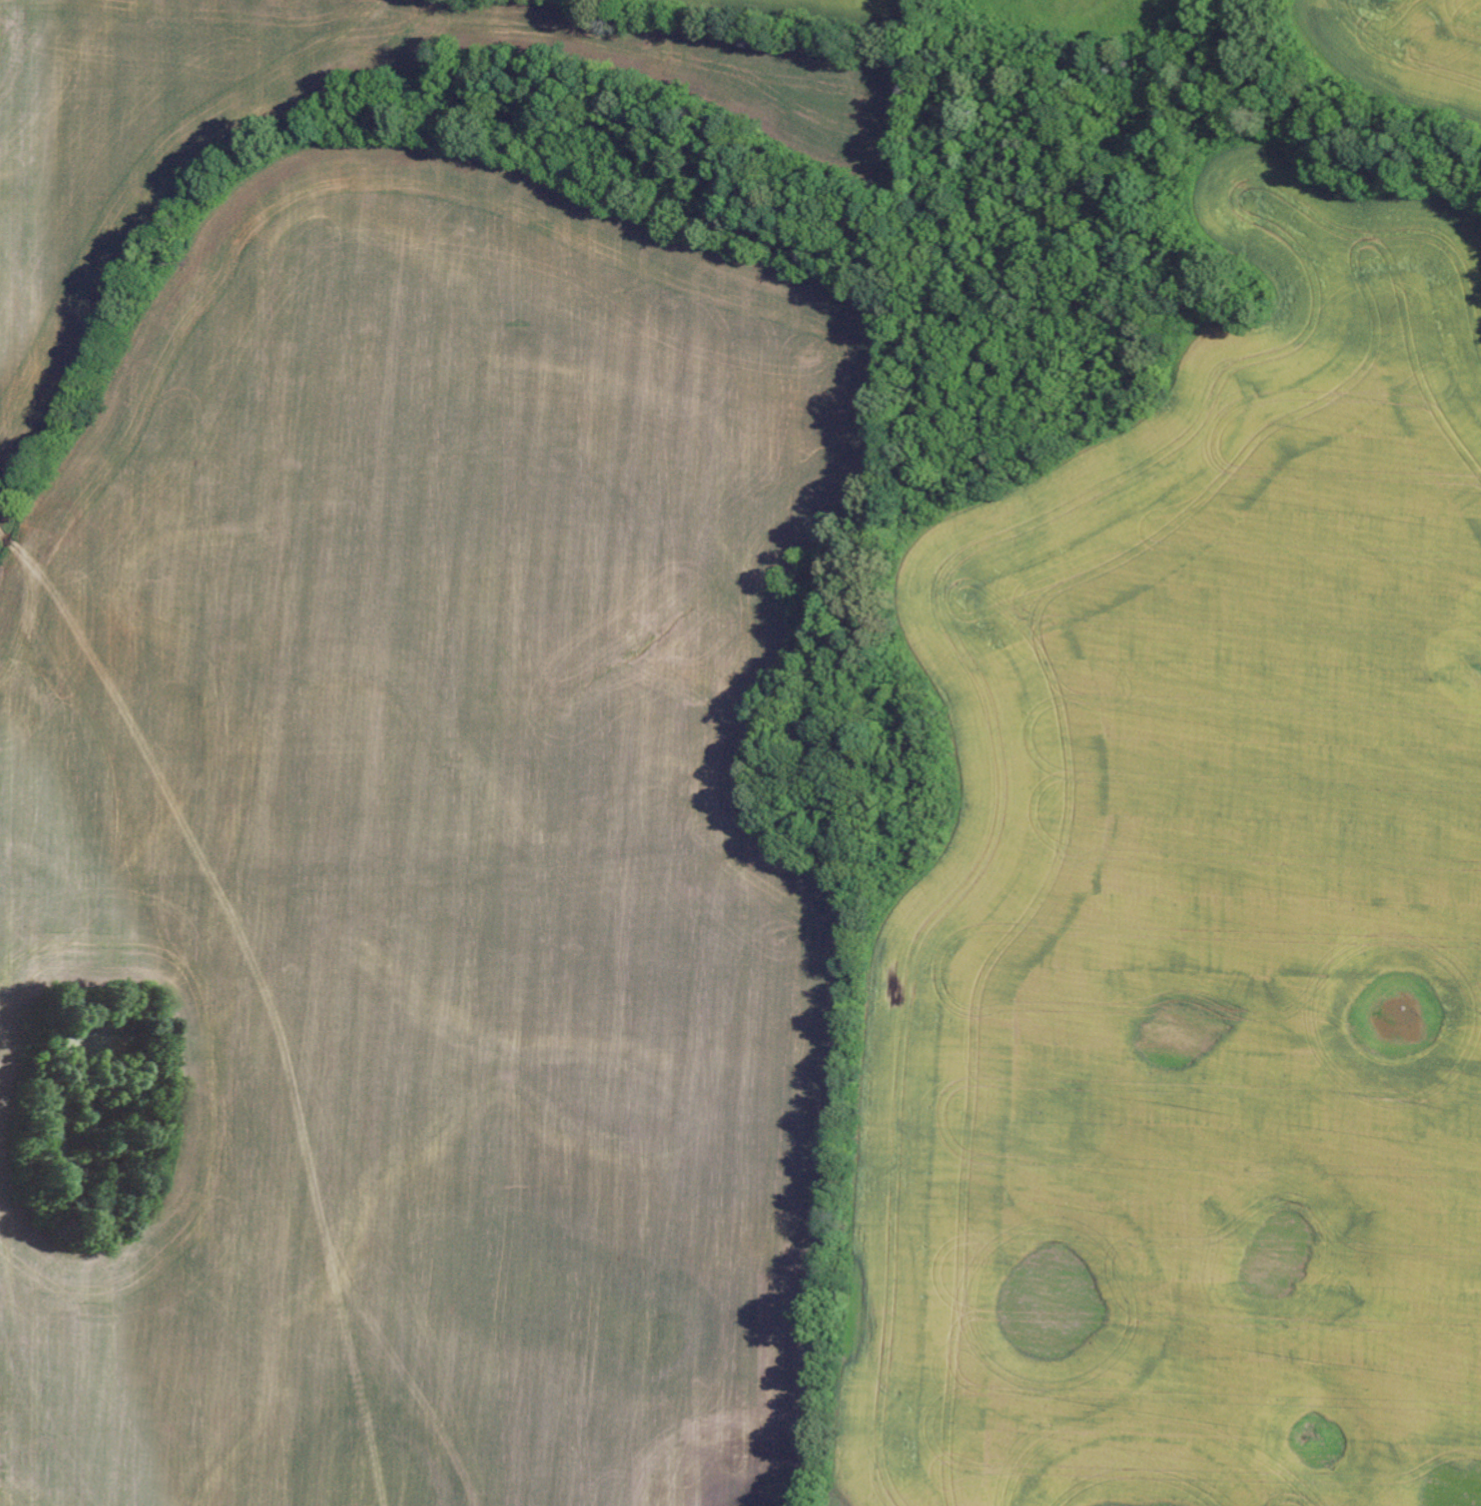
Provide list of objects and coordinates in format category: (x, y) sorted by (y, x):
road: (244, 137)

